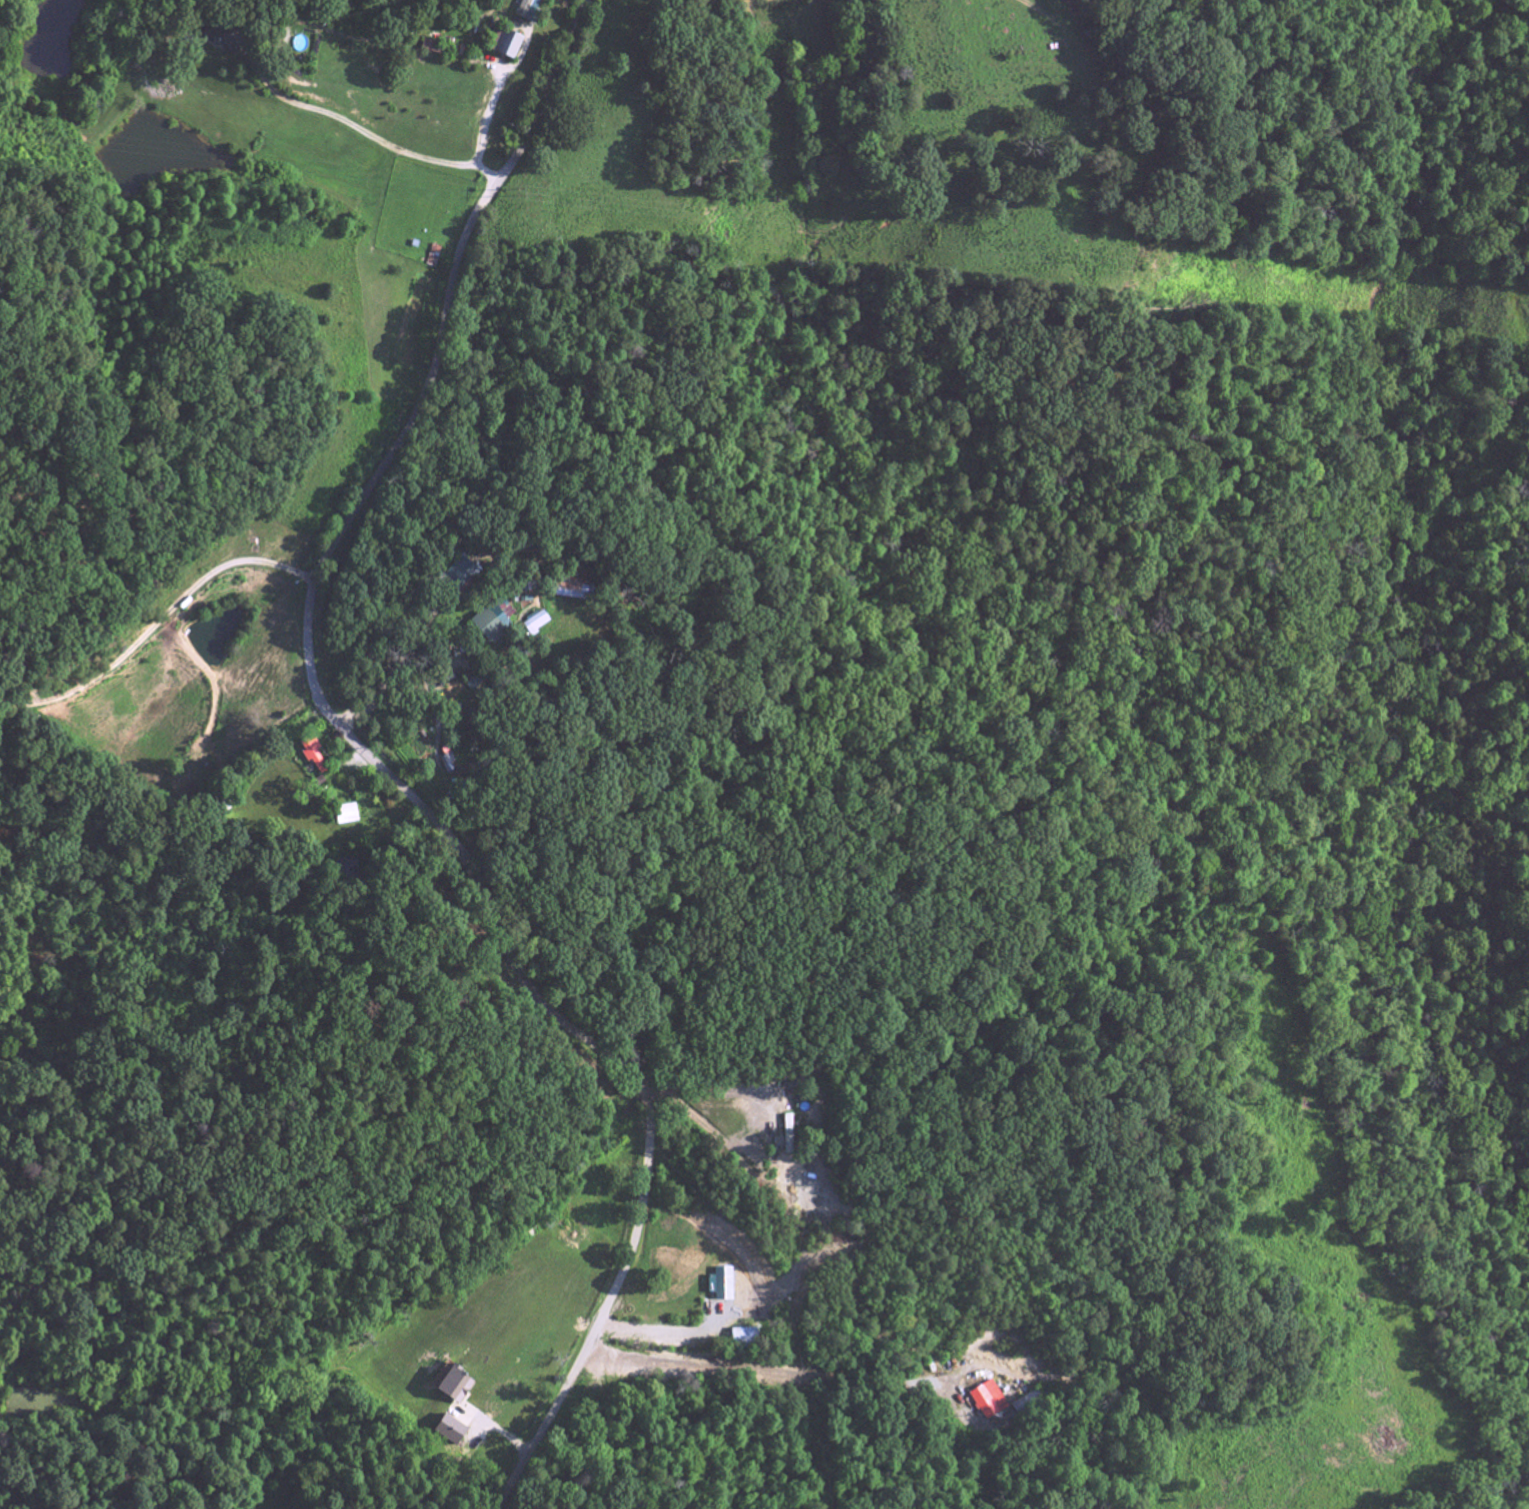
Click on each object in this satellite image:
building: (526, 5)
building: (221, 40)
building: (501, 48)
road: (360, 134)
power tower: (518, 193)
building: (433, 258)
power tower: (1061, 259)
building: (462, 578)
building: (569, 591)
road: (158, 611)
building: (534, 625)
building: (489, 627)
road: (395, 698)
building: (312, 757)
building: (448, 764)
road: (388, 774)
building: (345, 817)
road: (705, 1085)
building: (722, 1286)
road: (686, 1331)
building: (740, 1339)
road: (754, 1369)
building: (449, 1388)
building: (986, 1402)
building: (448, 1431)

